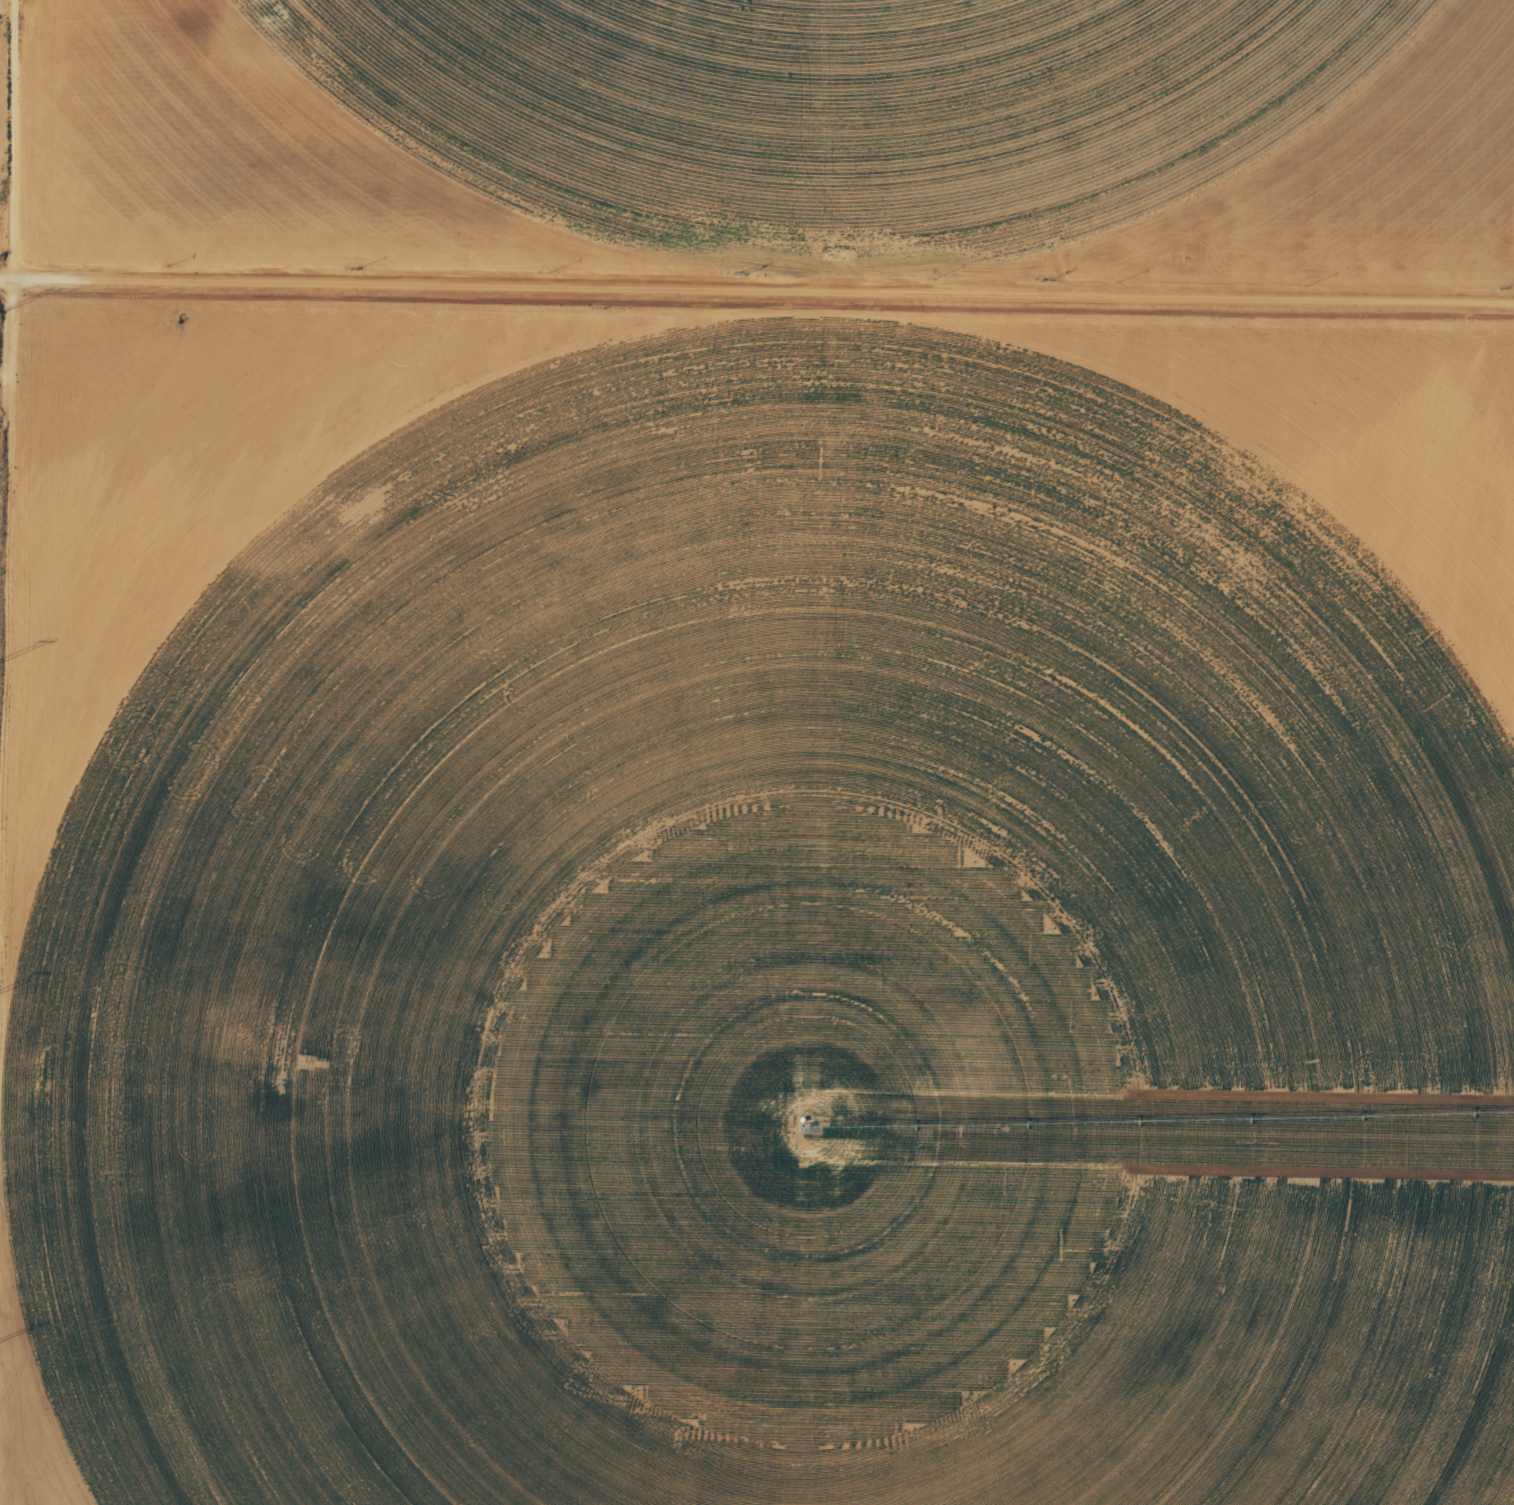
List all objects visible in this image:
road: (9, 142)
road: (757, 289)
road: (4, 483)

